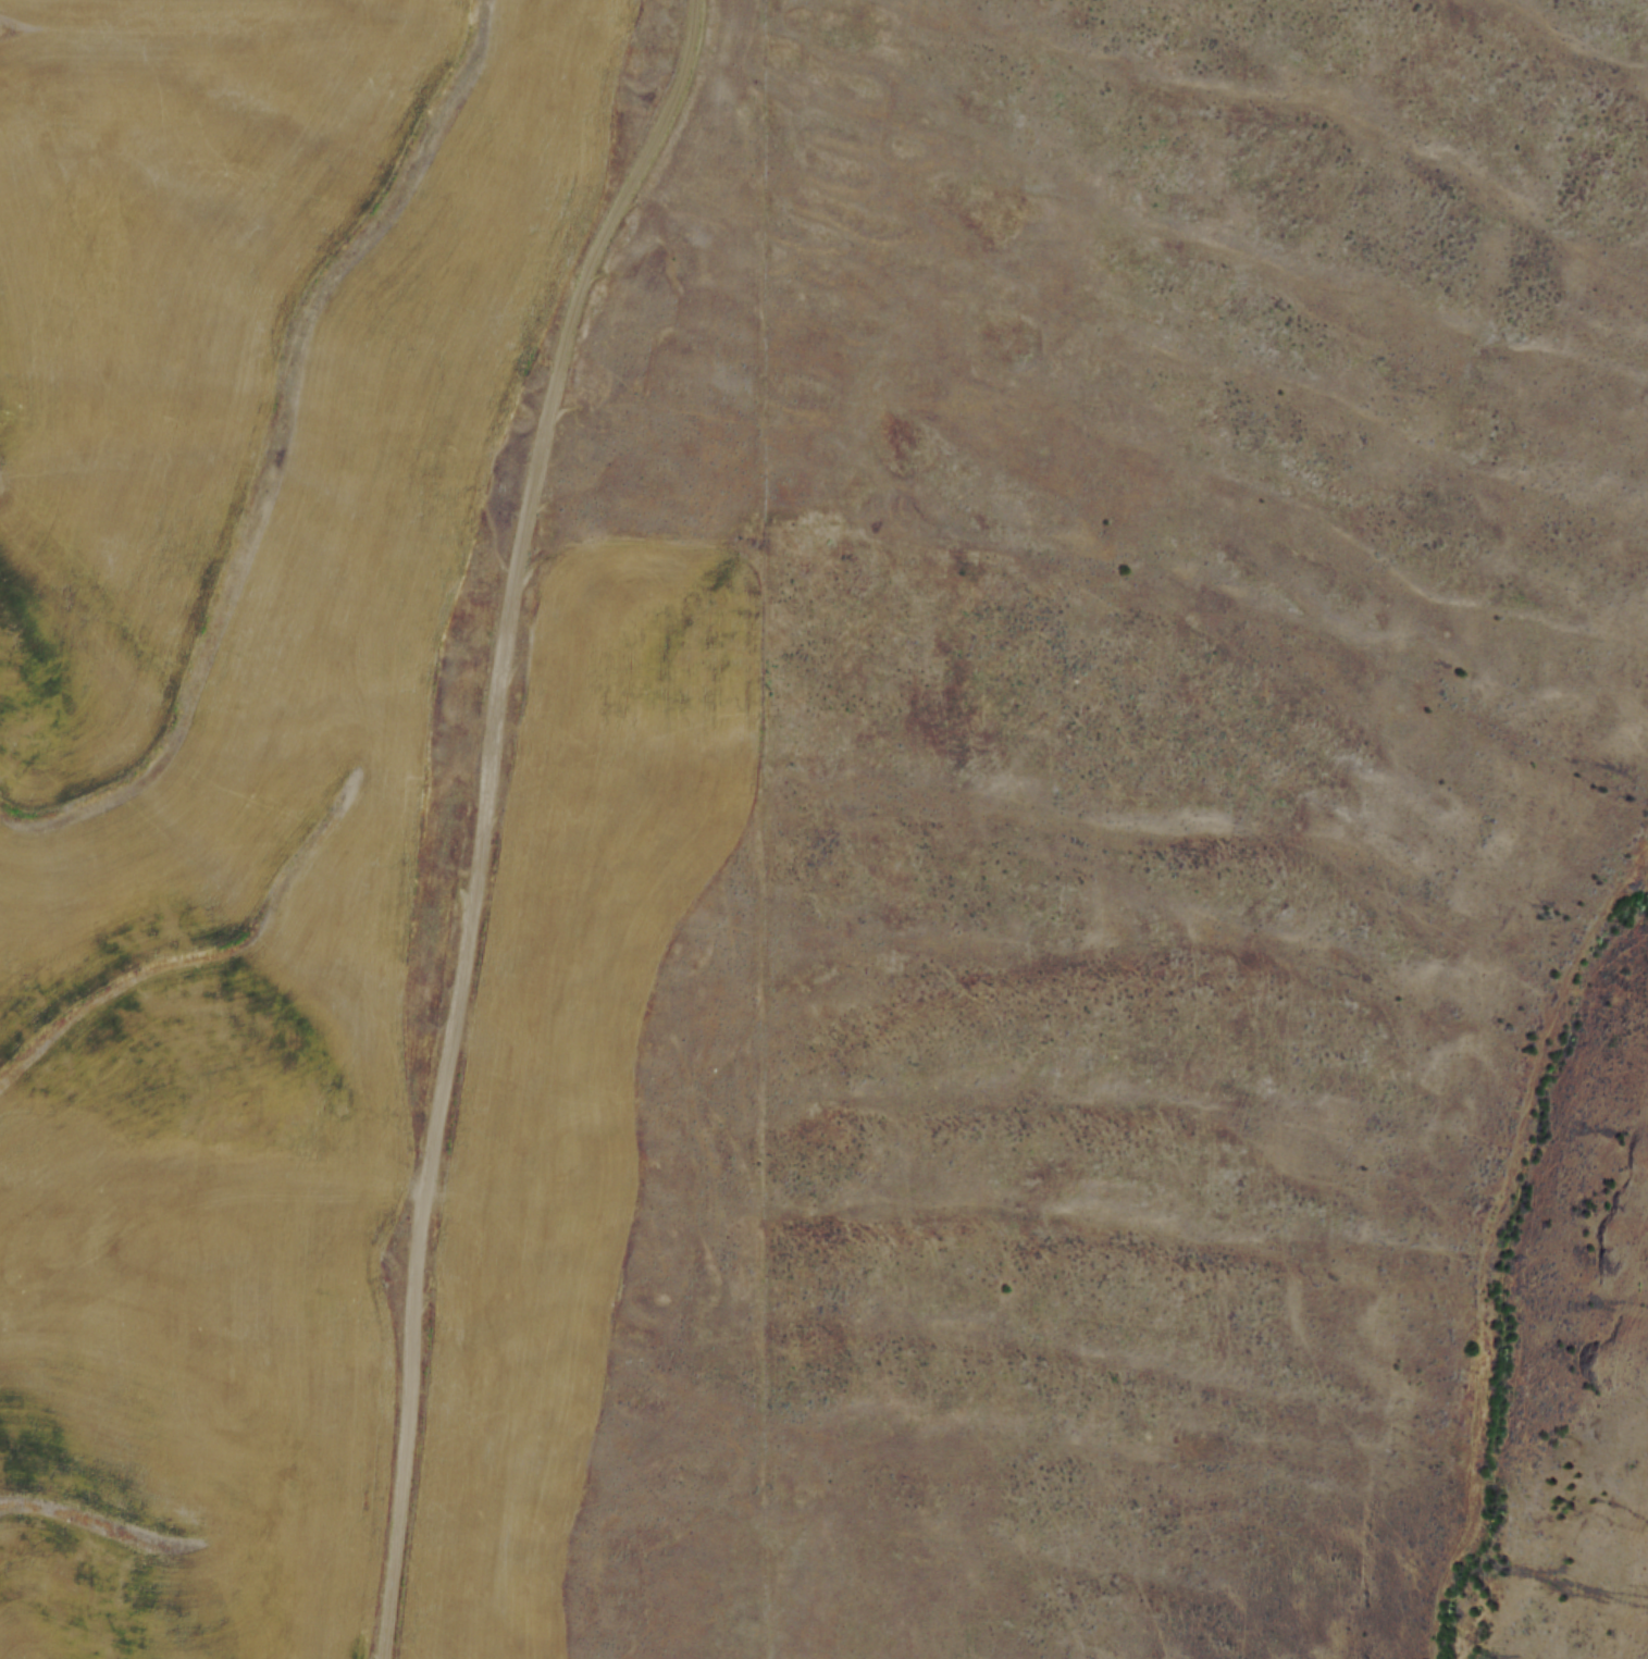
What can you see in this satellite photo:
road: (486, 816)

